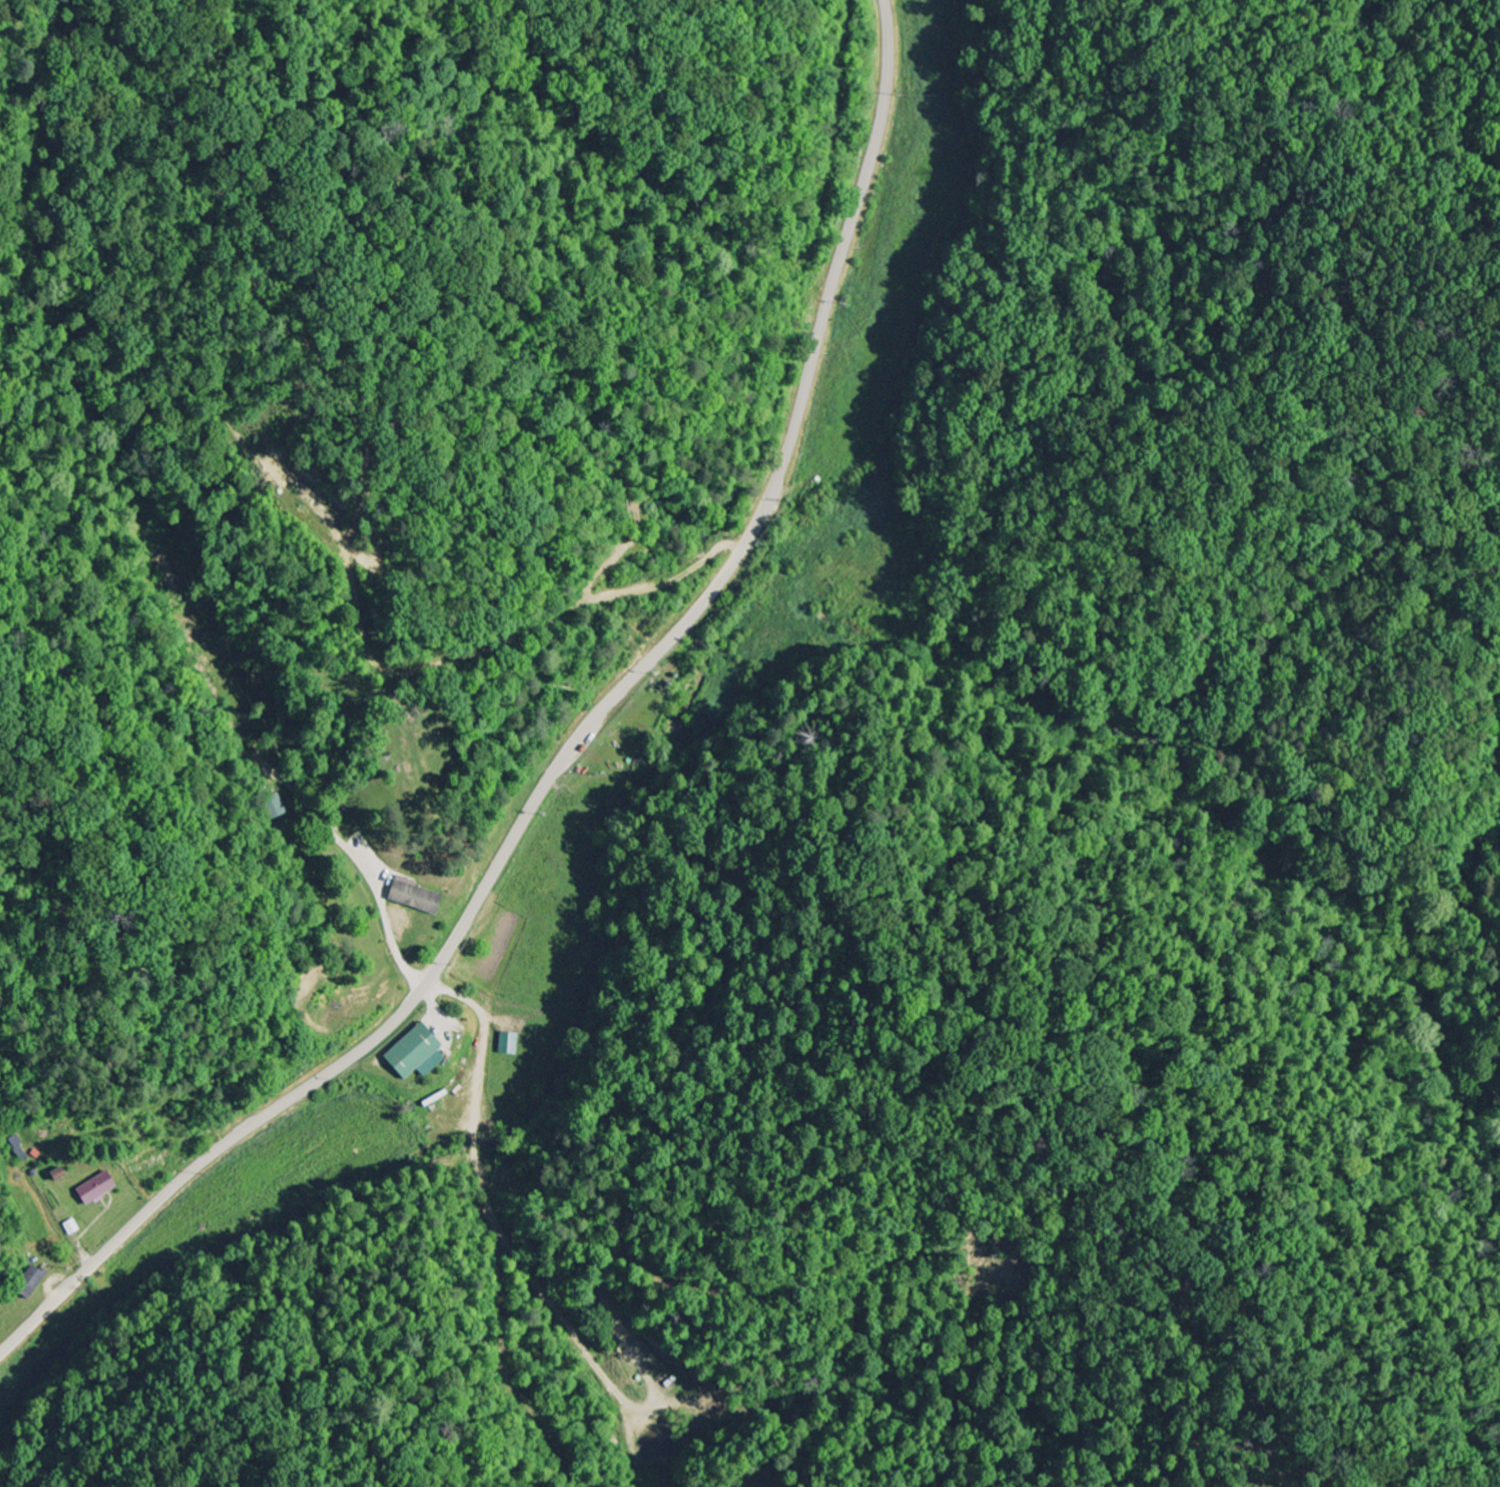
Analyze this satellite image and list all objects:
road: (882, 544)
road: (571, 751)
building: (419, 897)
building: (512, 1044)
building: (423, 1054)
building: (100, 1189)

